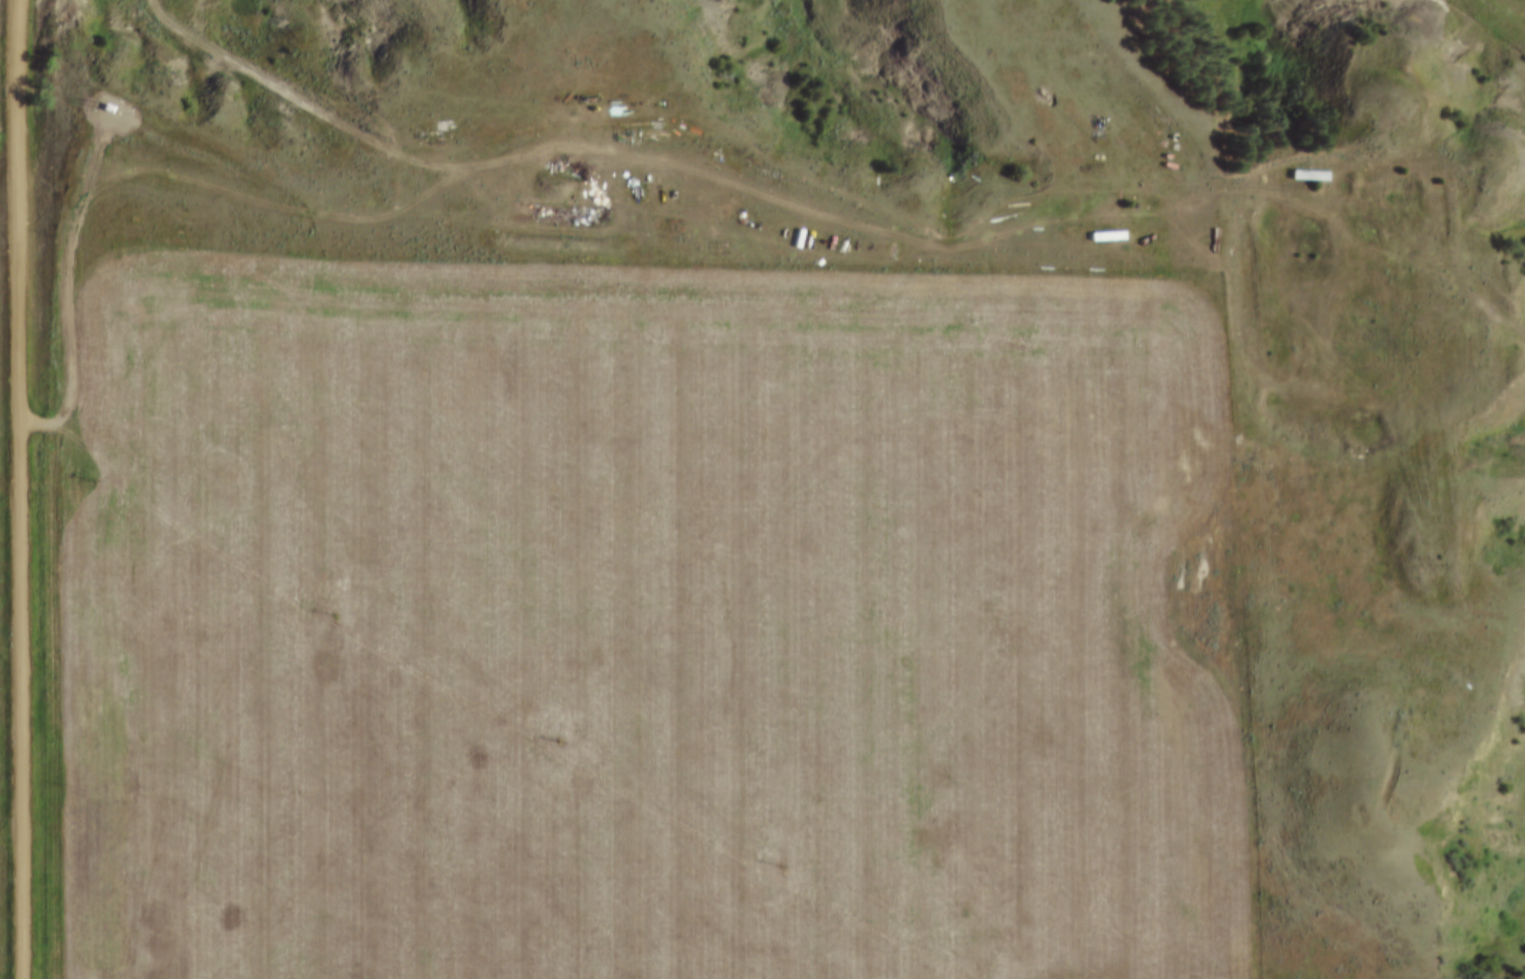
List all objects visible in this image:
building: (98, 95)
building: (1312, 176)
road: (156, 178)
road: (836, 215)
road: (20, 489)

